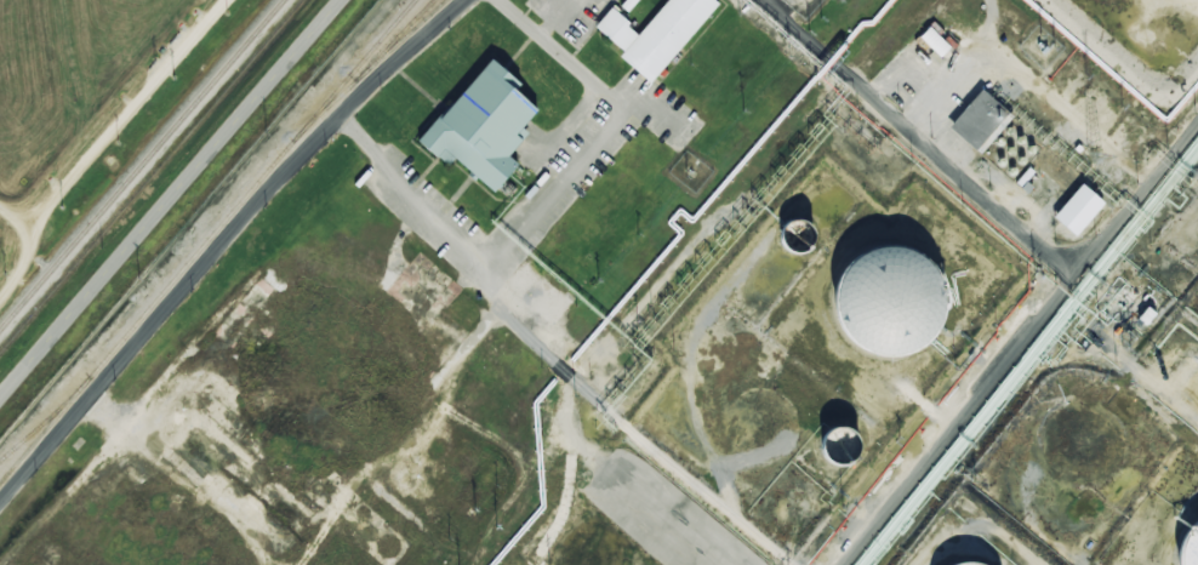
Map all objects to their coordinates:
building: (654, 35)
railway: (399, 41)
building: (932, 41)
railway: (363, 73)
building: (976, 124)
building: (477, 129)
building: (1005, 133)
building: (1015, 142)
building: (996, 143)
road: (920, 144)
building: (1026, 152)
building: (1005, 153)
building: (1016, 162)
railway: (141, 164)
building: (996, 164)
building: (1006, 173)
road: (170, 198)
building: (1074, 212)
railway: (211, 234)
building: (788, 238)
road: (224, 240)
road: (25, 258)
building: (890, 307)
storage tank: (890, 307)
building: (1143, 316)
road: (1021, 344)
railway: (44, 429)
building: (840, 452)
storage tank: (840, 452)
building: (1190, 549)
storage tank: (1190, 549)
building: (989, 564)

